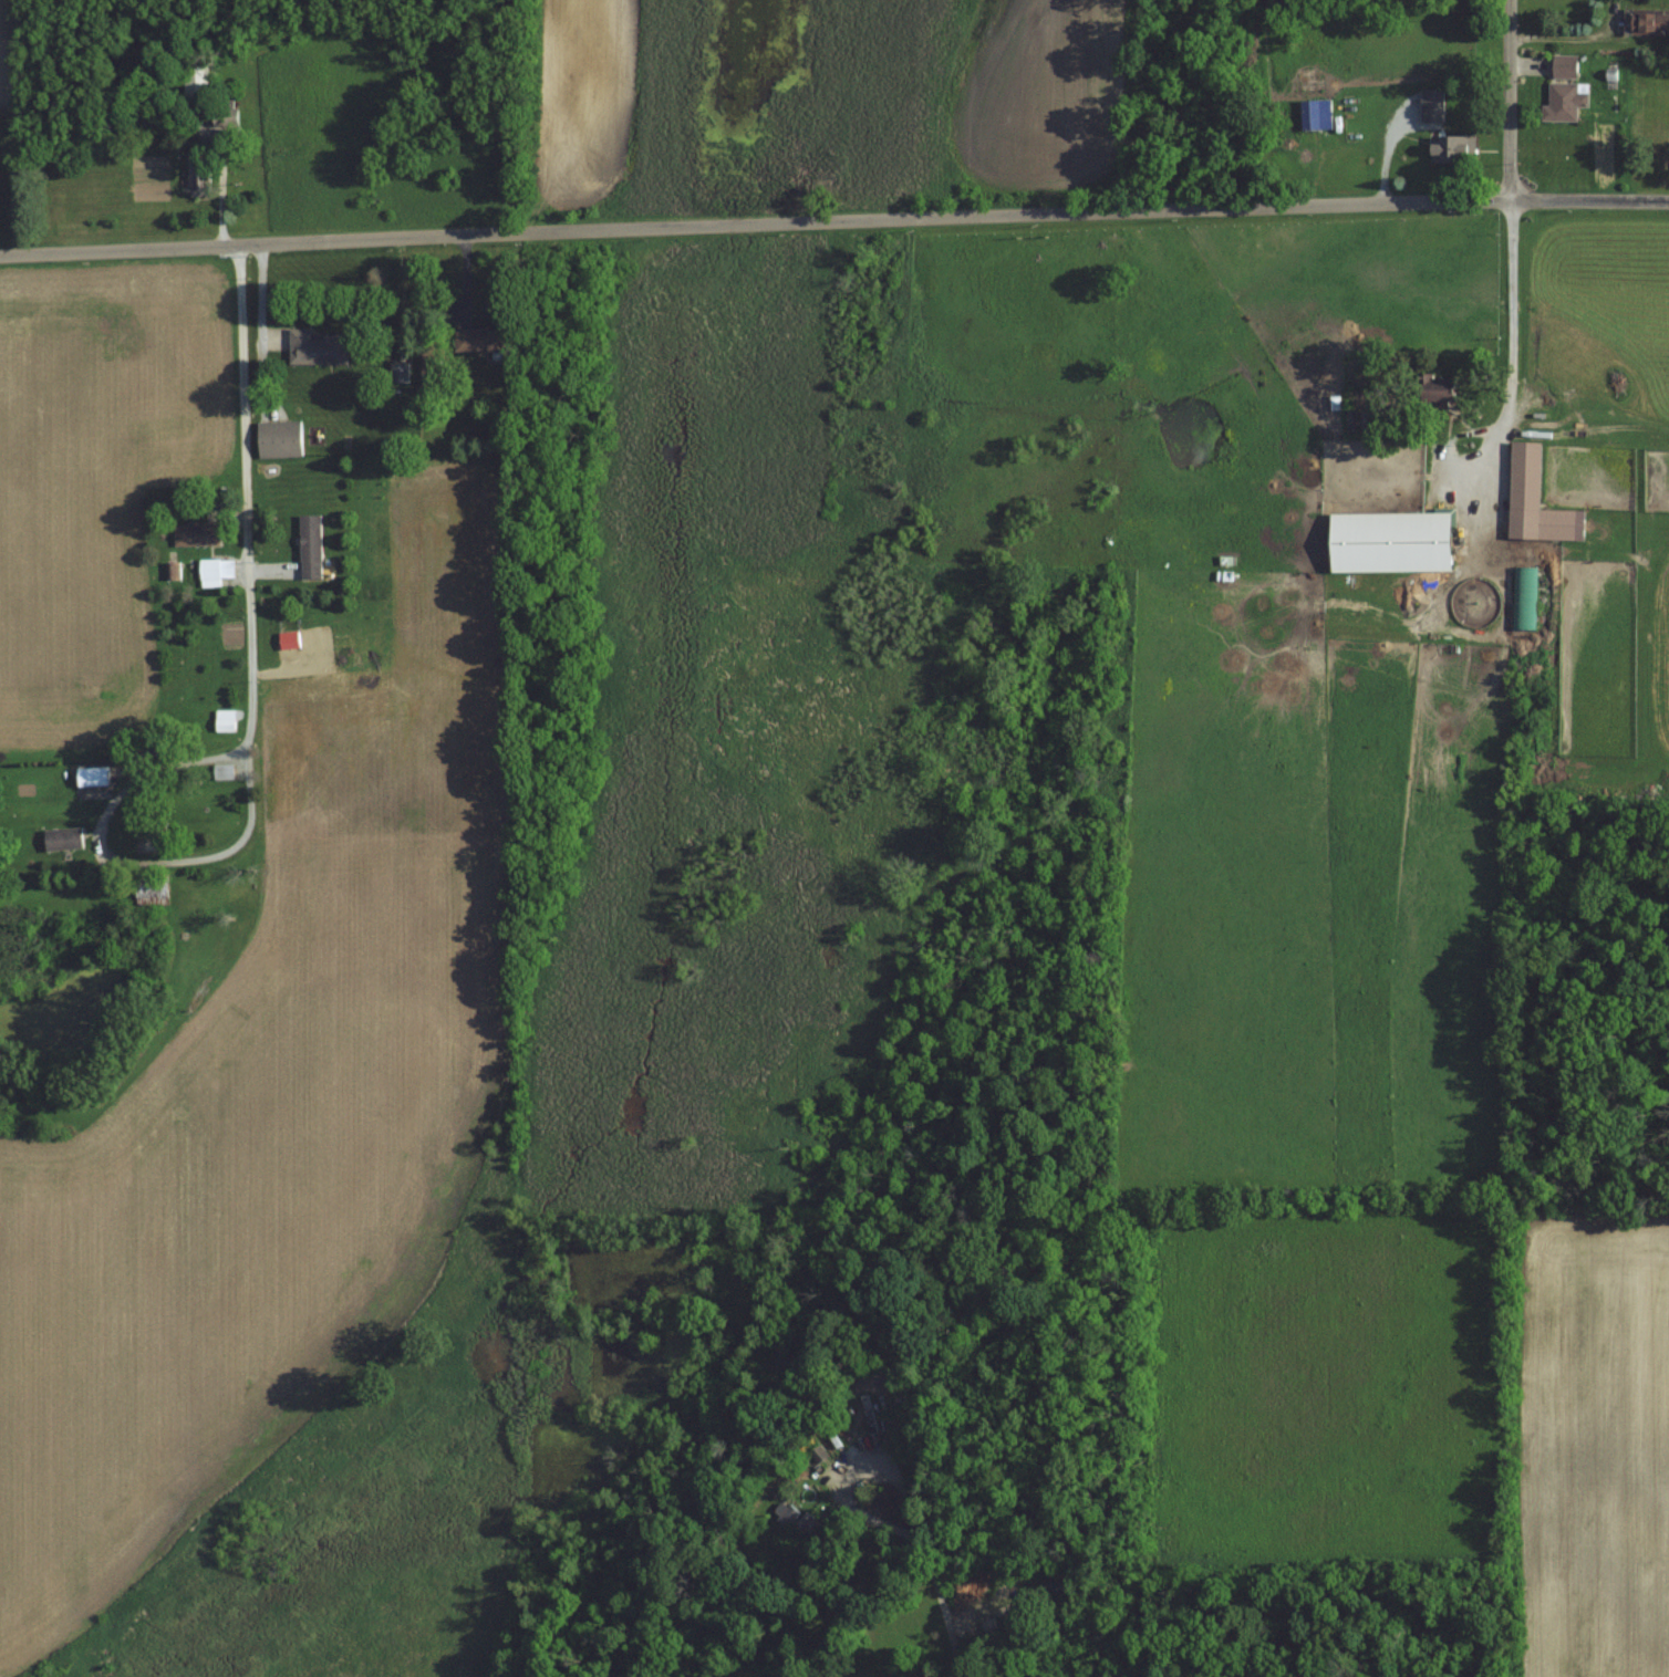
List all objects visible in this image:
building: (1651, 23)
road: (1573, 37)
building: (1565, 66)
building: (196, 83)
road: (1512, 100)
building: (1566, 101)
building: (1432, 106)
building: (1316, 114)
building: (226, 116)
building: (1454, 148)
building: (200, 174)
road: (1594, 199)
road: (758, 223)
building: (480, 341)
building: (317, 348)
road: (1517, 357)
building: (431, 377)
building: (1438, 395)
building: (280, 438)
building: (1537, 501)
road: (248, 502)
building: (196, 534)
building: (1392, 541)
building: (310, 546)
building: (209, 572)
building: (1524, 591)
building: (224, 720)
building: (92, 777)
road: (124, 794)
building: (63, 838)
building: (152, 890)
building: (796, 1522)
building: (1064, 1586)

